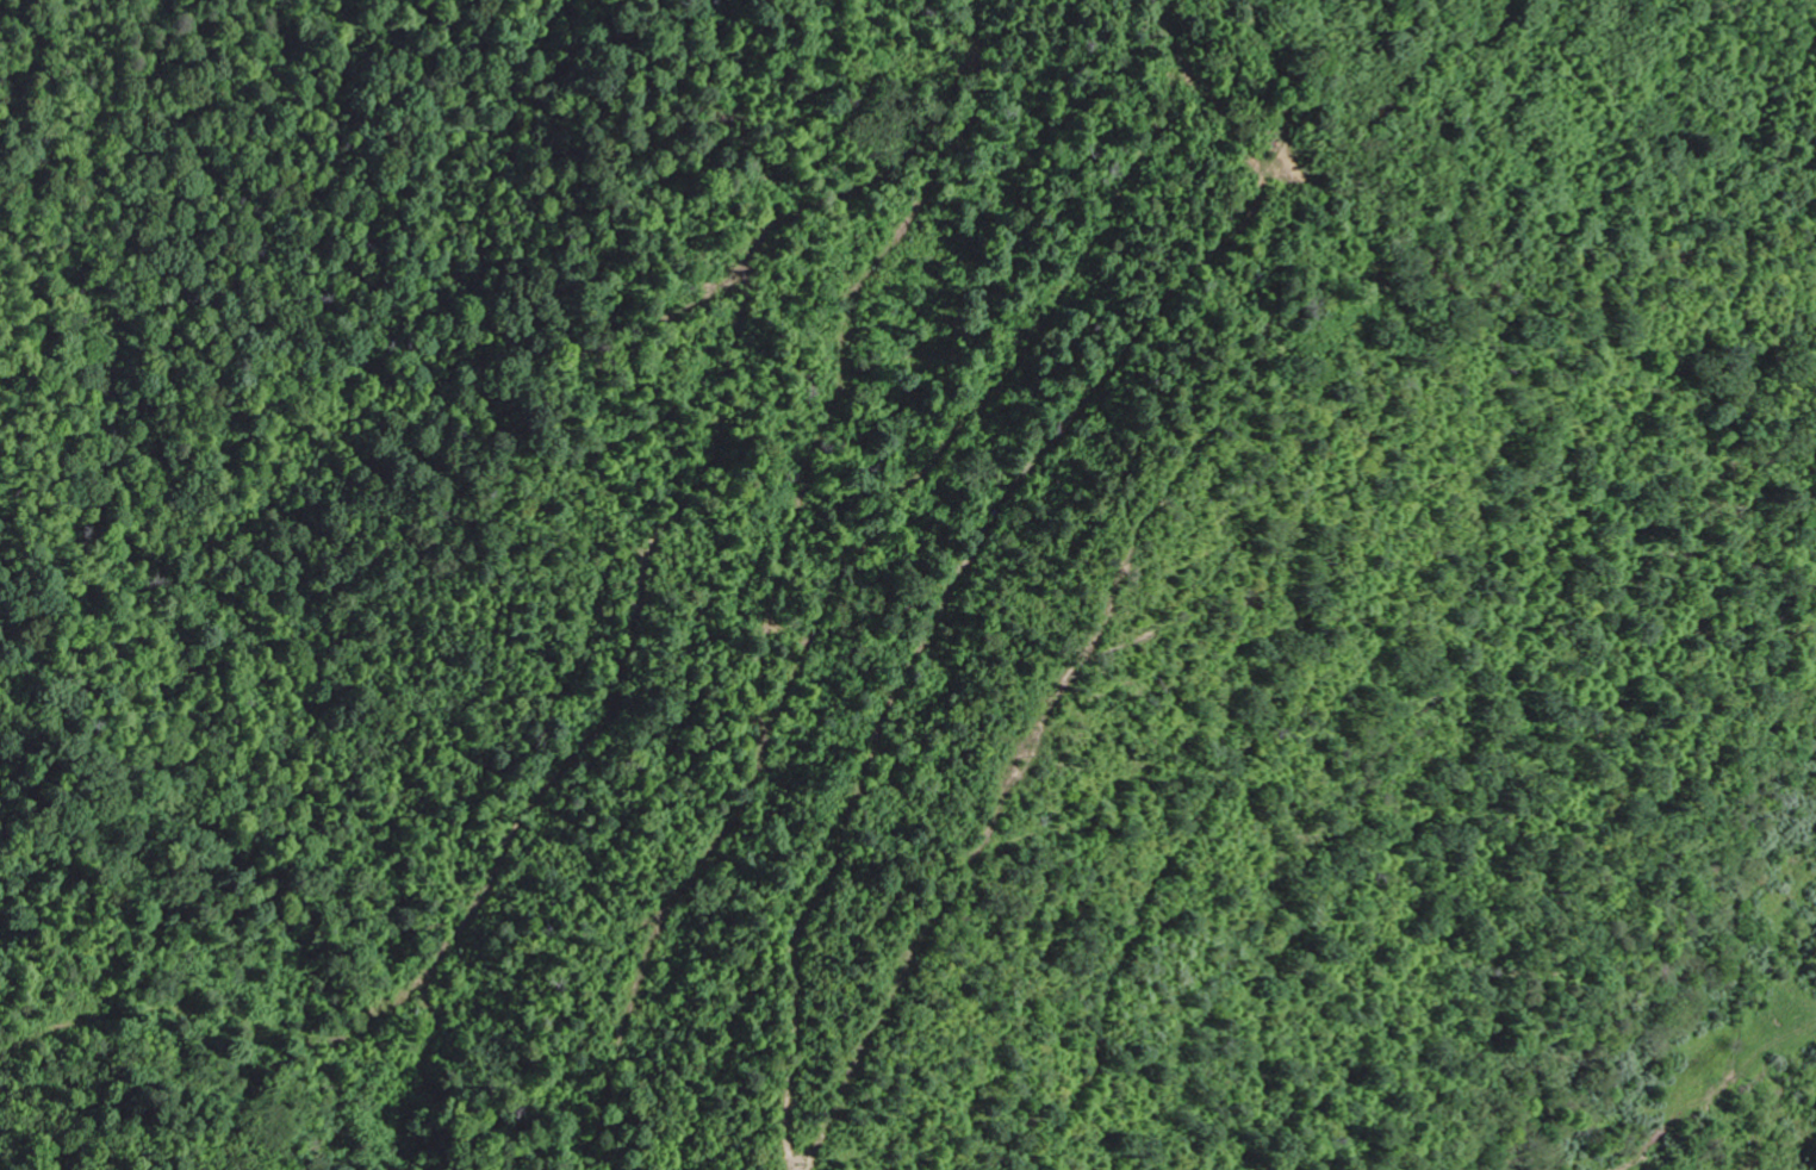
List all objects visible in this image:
road: (1717, 1096)

